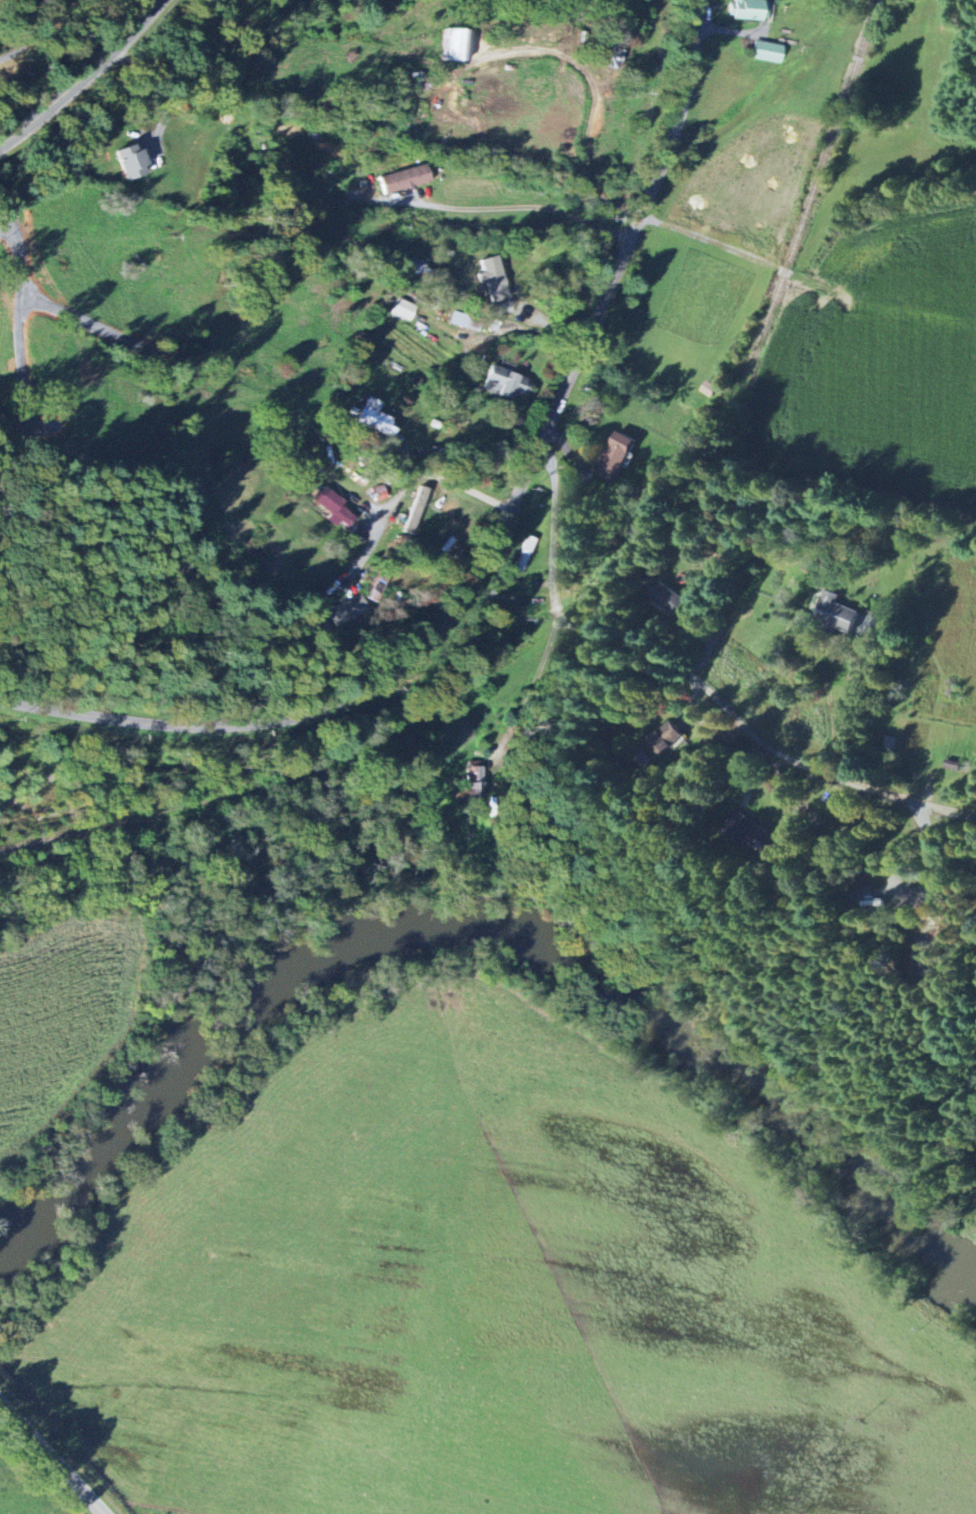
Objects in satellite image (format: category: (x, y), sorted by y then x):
building: (748, 9)
building: (455, 45)
building: (769, 52)
road: (86, 80)
building: (133, 161)
building: (407, 179)
road: (522, 205)
building: (493, 279)
building: (403, 310)
building: (504, 384)
building: (375, 418)
building: (619, 457)
road: (406, 481)
building: (380, 493)
building: (335, 508)
road: (547, 531)
road: (498, 541)
railway: (589, 583)
building: (375, 586)
building: (346, 611)
building: (841, 614)
road: (537, 692)
road: (855, 703)
road: (754, 737)
building: (474, 783)
railway: (15, 793)
building: (872, 903)
river: (208, 1043)
river: (724, 1058)
pier: (5, 1220)
road: (5, 1221)
river: (18, 1243)
road: (52, 1456)

